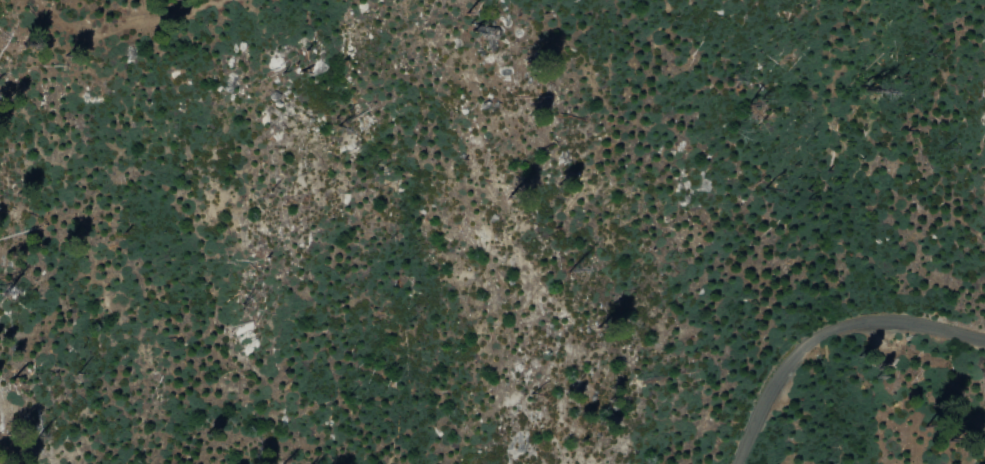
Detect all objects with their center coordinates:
road: (825, 331)

